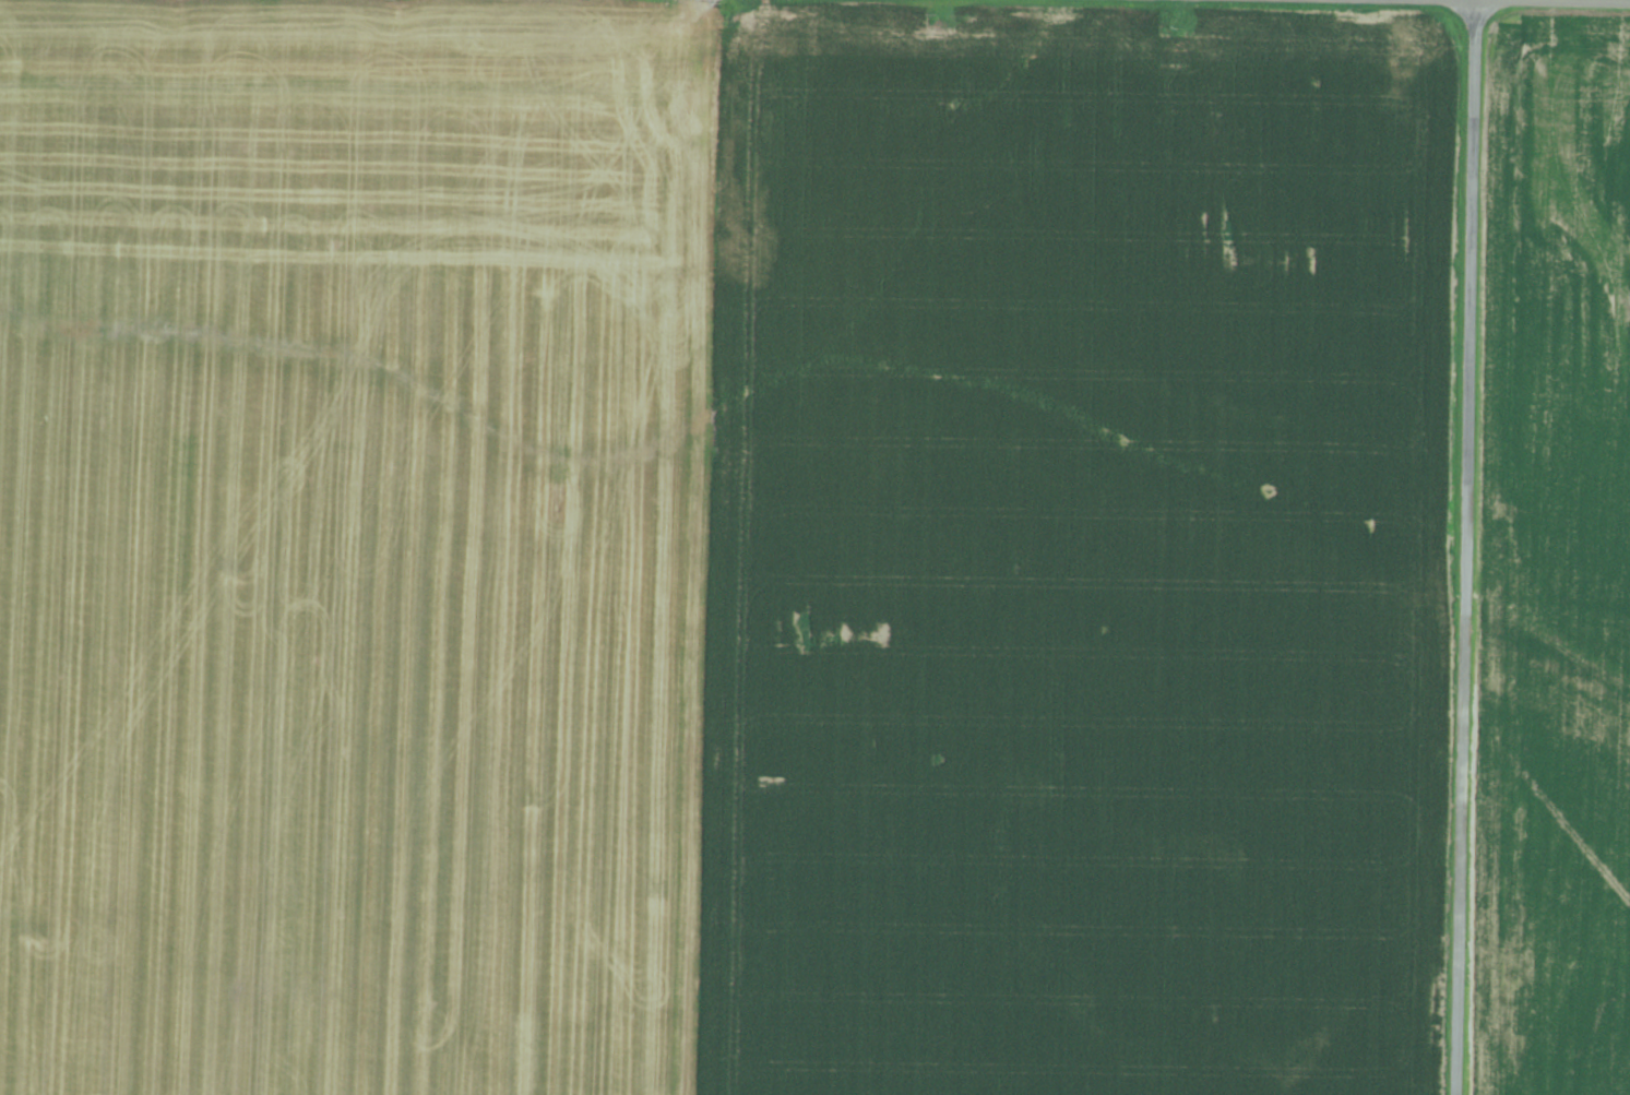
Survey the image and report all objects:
road: (678, 5)
road: (1471, 547)
road: (757, 550)

